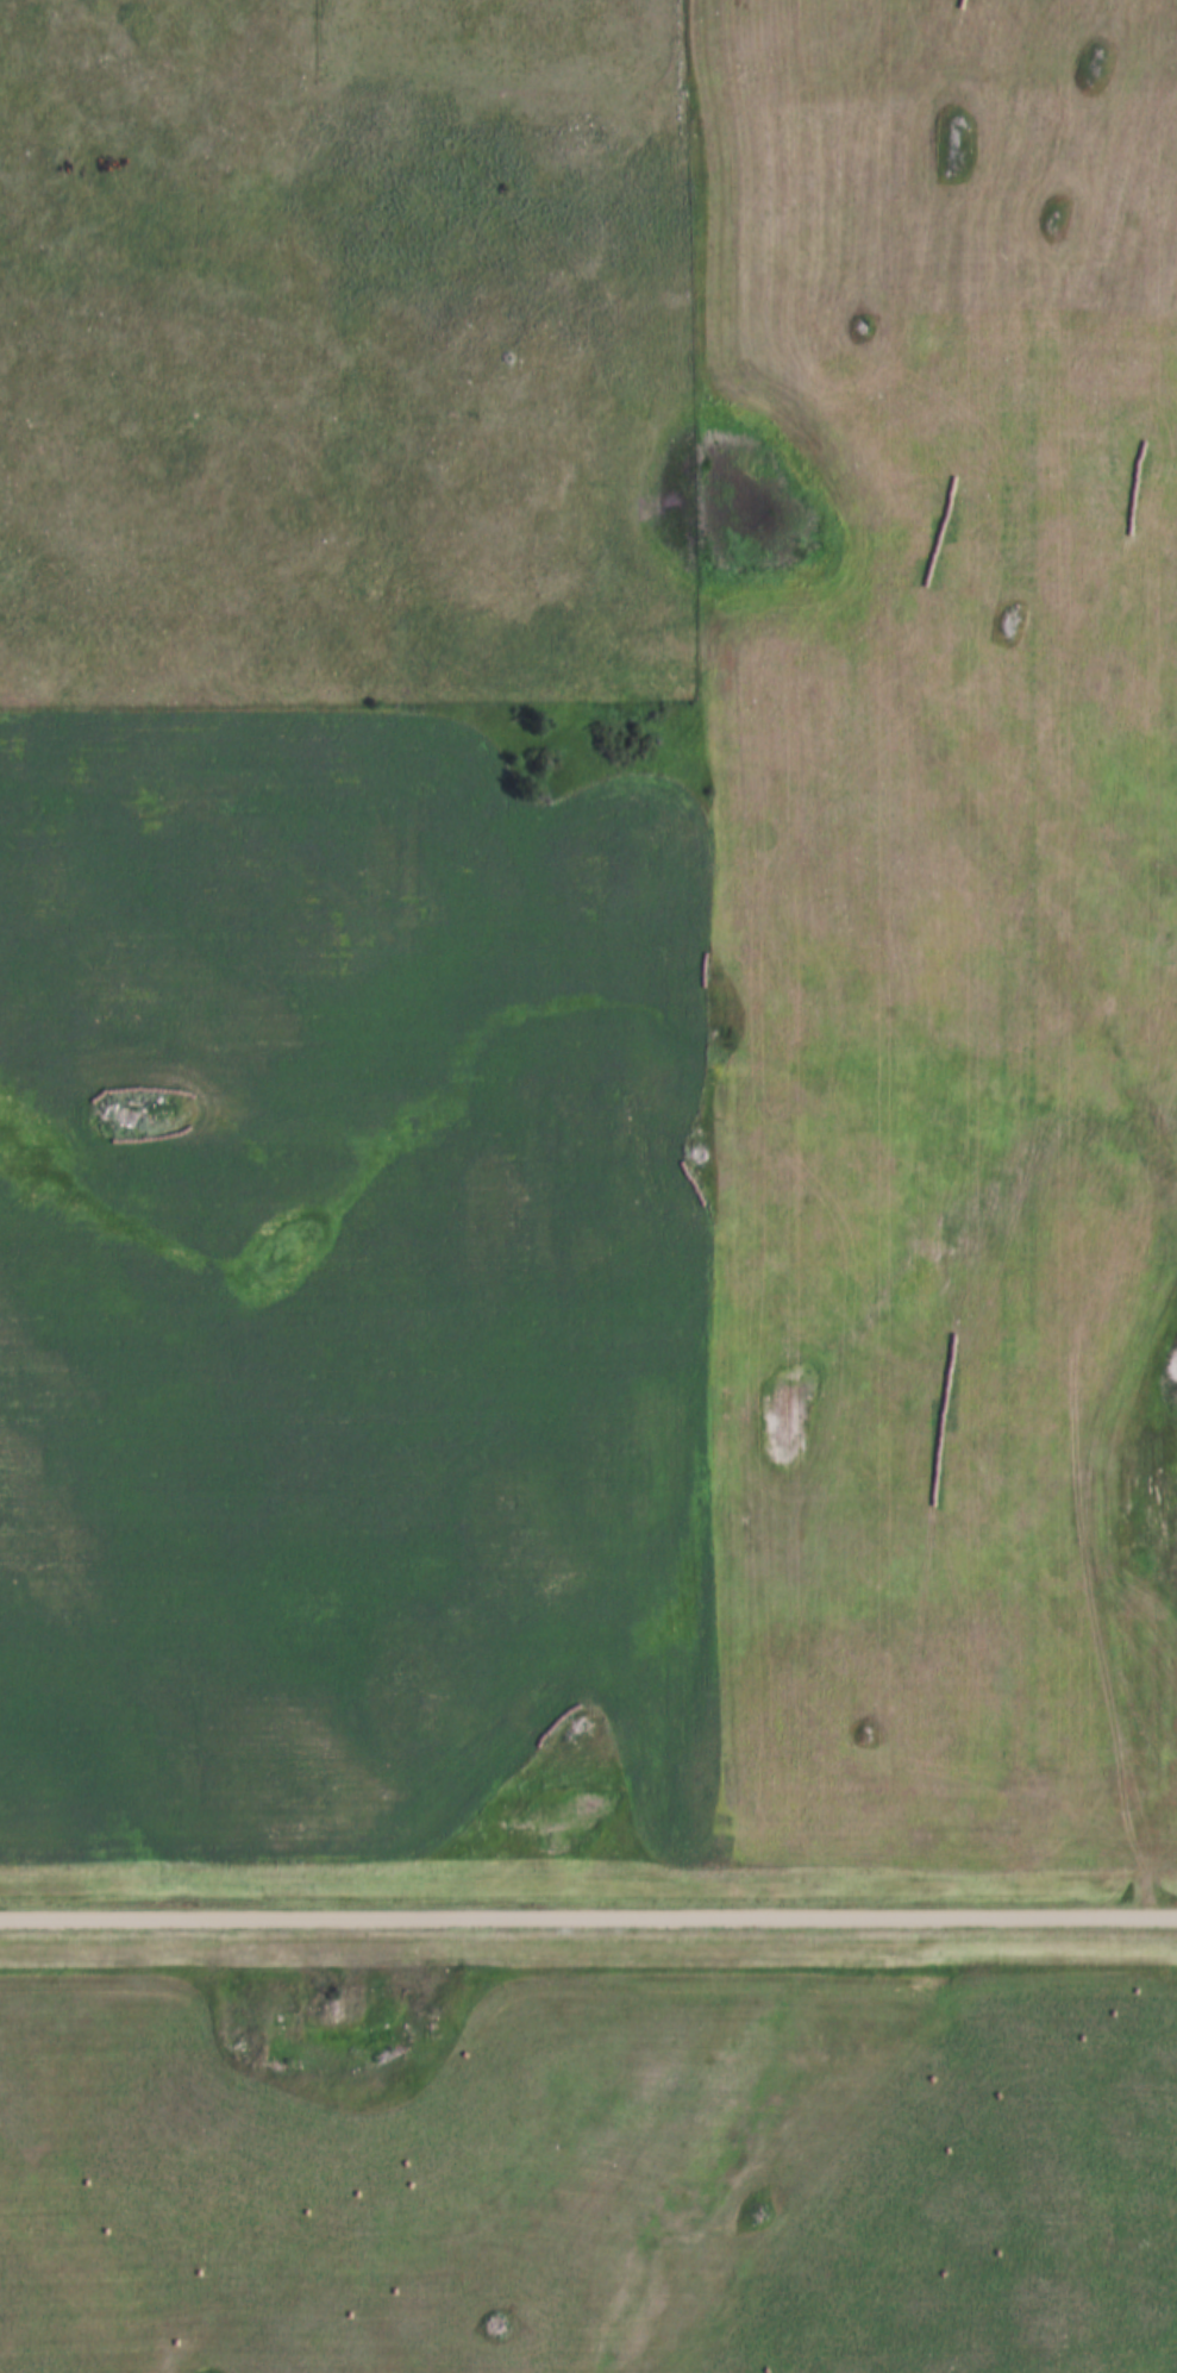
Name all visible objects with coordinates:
road: (588, 1916)

